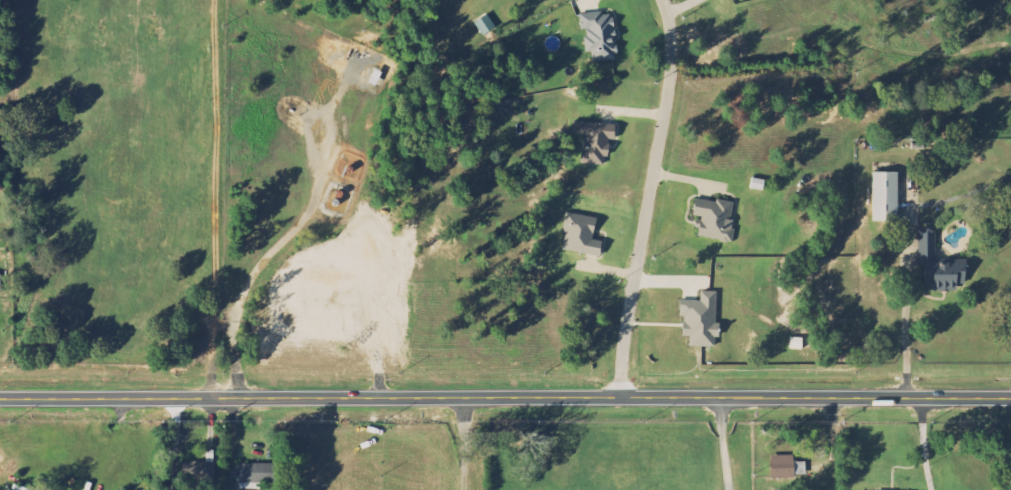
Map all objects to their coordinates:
building: (485, 26)
building: (599, 36)
building: (594, 141)
building: (885, 197)
road: (649, 198)
building: (714, 219)
road: (300, 222)
building: (580, 236)
building: (939, 265)
building: (0, 285)
building: (700, 320)
building: (796, 344)
road: (505, 398)
road: (463, 444)
road: (722, 444)
road: (923, 444)
building: (786, 467)
building: (260, 474)

